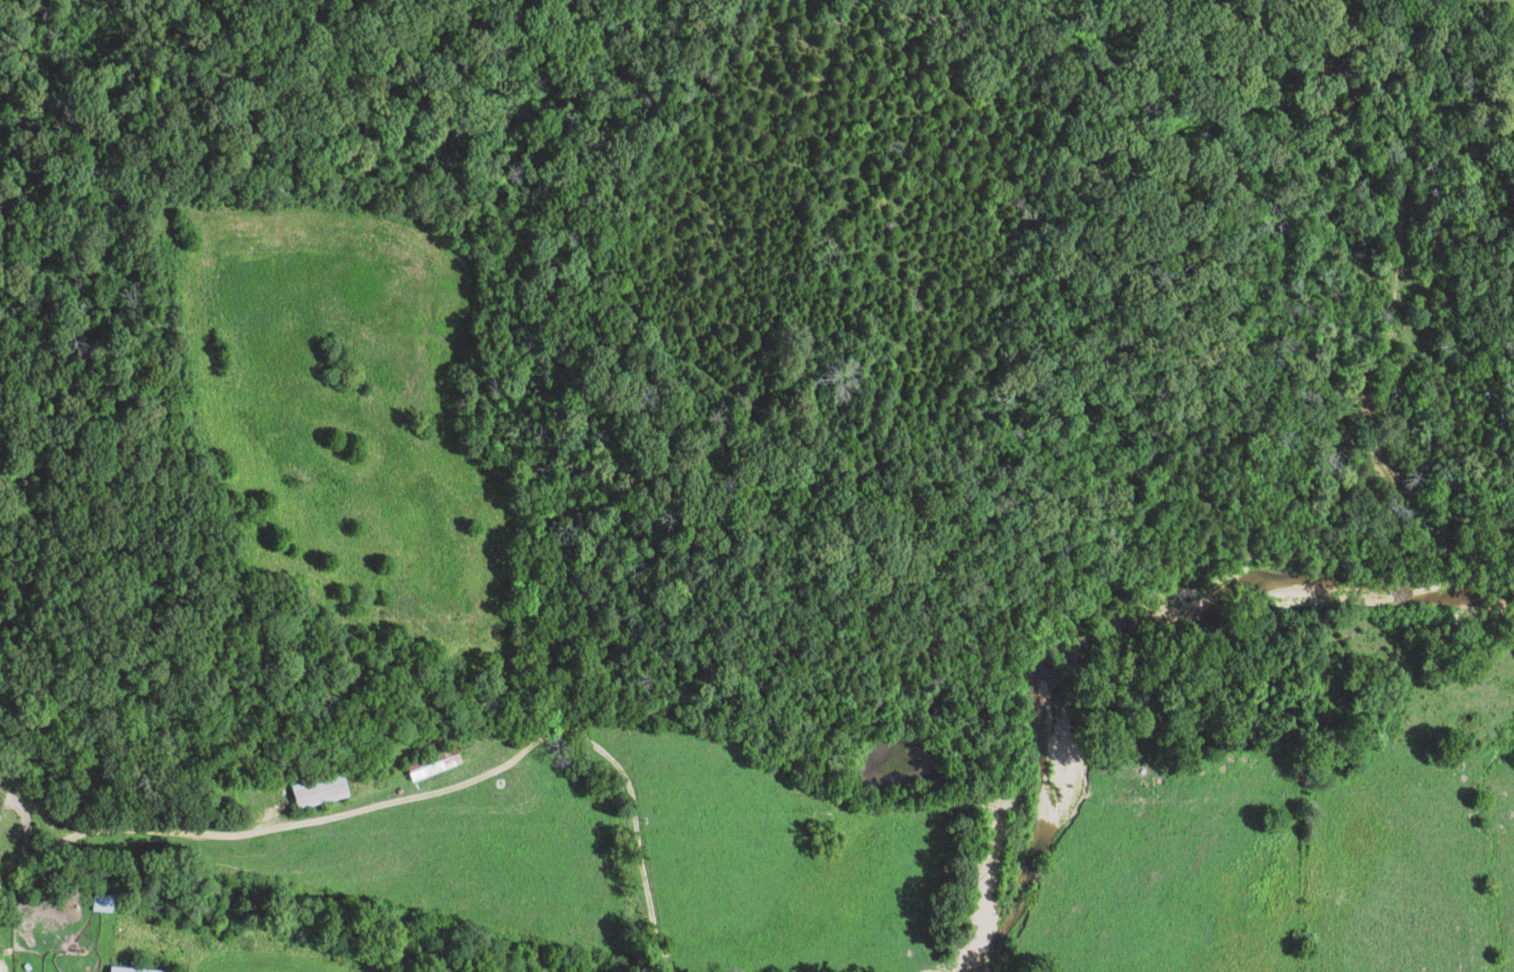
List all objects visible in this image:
road: (412, 762)
building: (430, 765)
building: (314, 793)
building: (99, 905)
building: (118, 971)

